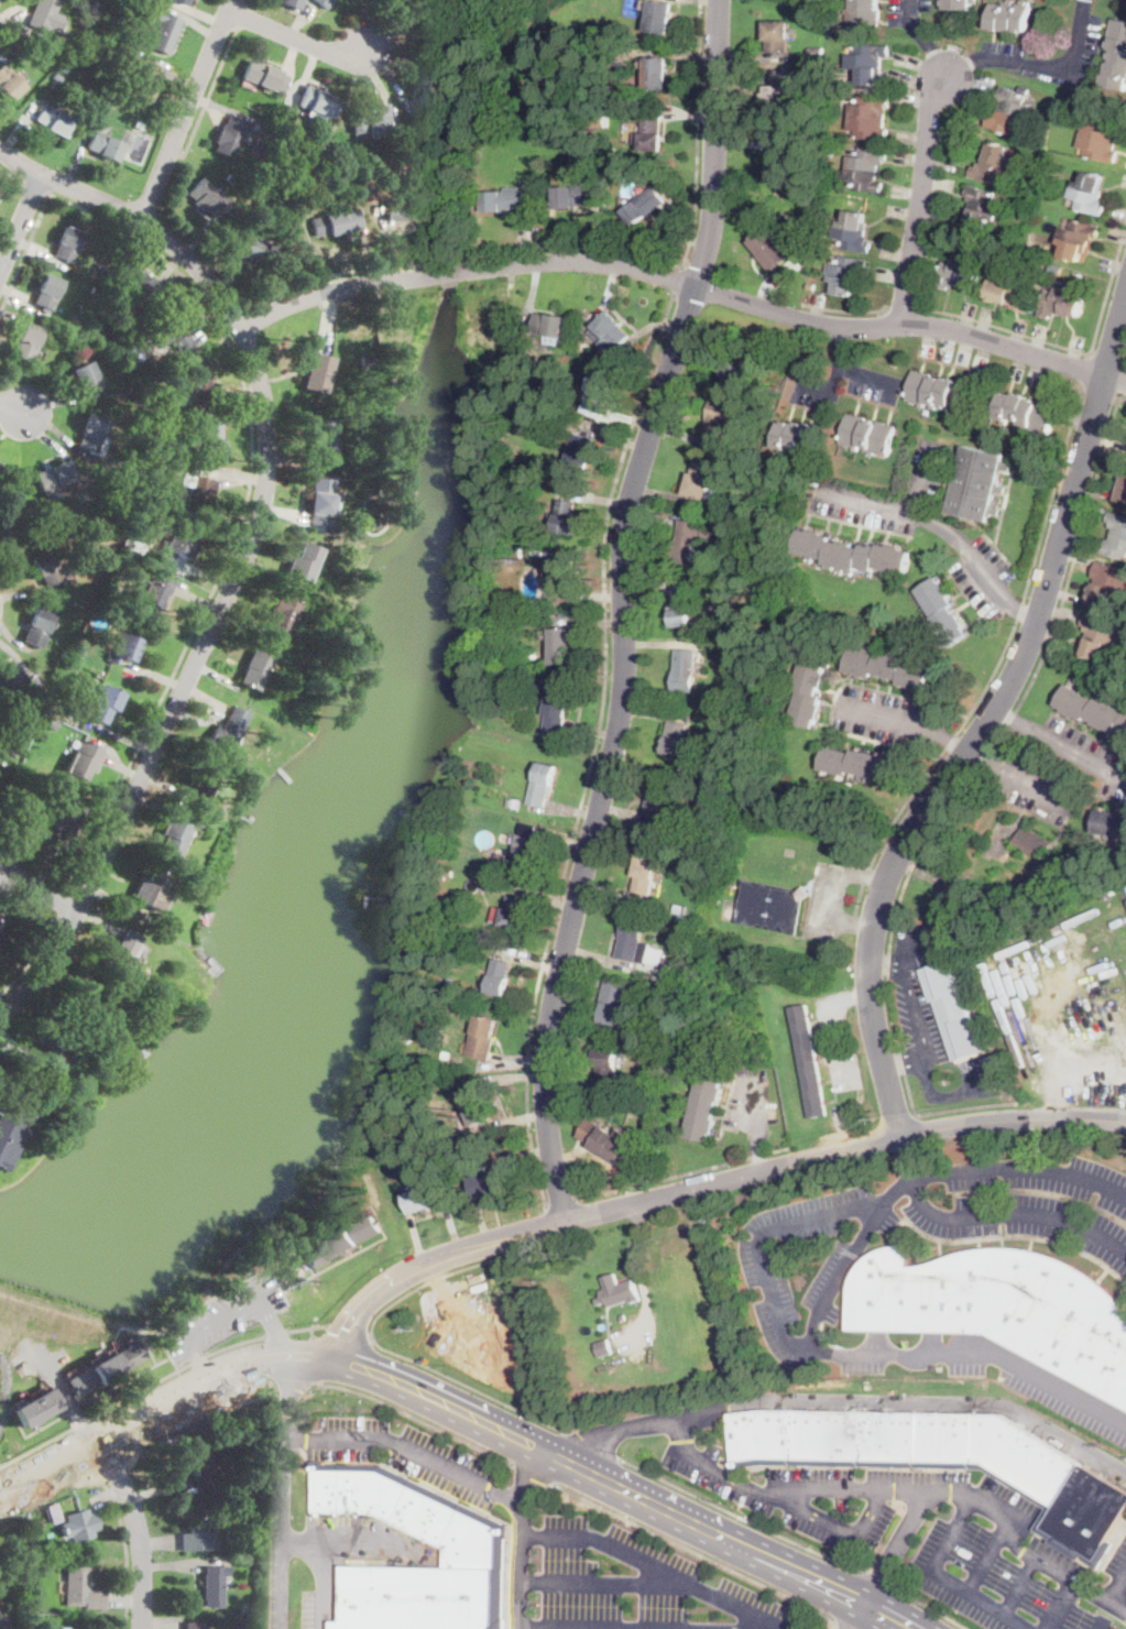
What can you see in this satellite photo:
building: (171, 1)
building: (183, 1)
road: (248, 2)
building: (292, 3)
building: (324, 3)
building: (959, 4)
building: (105, 6)
building: (42, 14)
building: (864, 14)
road: (242, 17)
building: (1012, 17)
building: (660, 18)
building: (440, 31)
building: (164, 32)
building: (779, 35)
road: (295, 37)
building: (130, 39)
road: (922, 39)
building: (475, 40)
building: (87, 50)
building: (817, 52)
building: (1116, 56)
road: (1037, 62)
building: (48, 63)
building: (868, 64)
building: (63, 68)
building: (656, 73)
building: (56, 76)
building: (265, 76)
building: (452, 76)
building: (799, 77)
building: (144, 80)
building: (9, 83)
building: (247, 84)
building: (425, 85)
building: (119, 89)
road: (210, 95)
building: (105, 100)
building: (778, 101)
building: (317, 105)
road: (186, 110)
building: (1012, 110)
building: (289, 116)
building: (871, 118)
building: (51, 119)
building: (369, 120)
building: (138, 124)
building: (651, 130)
road: (699, 134)
building: (229, 135)
building: (1102, 138)
building: (103, 145)
building: (994, 164)
building: (780, 167)
building: (866, 168)
road: (12, 176)
building: (230, 178)
building: (489, 185)
road: (34, 189)
building: (1090, 193)
building: (577, 195)
building: (209, 198)
building: (282, 198)
building: (505, 199)
road: (920, 199)
building: (644, 206)
building: (982, 206)
building: (411, 210)
building: (340, 221)
road: (20, 223)
building: (854, 231)
building: (1078, 238)
building: (66, 242)
building: (769, 249)
building: (260, 252)
road: (23, 253)
road: (461, 258)
building: (105, 270)
building: (960, 273)
building: (846, 274)
building: (132, 280)
road: (678, 281)
road: (685, 282)
building: (96, 289)
building: (1014, 291)
building: (46, 292)
building: (116, 298)
building: (1062, 302)
building: (109, 308)
road: (904, 309)
road: (848, 311)
road: (233, 317)
road: (982, 321)
building: (550, 328)
building: (612, 329)
building: (170, 330)
building: (99, 338)
building: (76, 339)
building: (25, 341)
building: (525, 347)
road: (1108, 360)
road: (849, 368)
building: (743, 369)
road: (1085, 371)
building: (315, 373)
building: (85, 378)
building: (198, 381)
road: (1122, 384)
parking lot: (874, 386)
road: (828, 390)
building: (941, 393)
building: (598, 394)
road: (12, 406)
building: (1028, 413)
building: (723, 418)
building: (91, 434)
building: (868, 435)
building: (323, 436)
building: (797, 436)
building: (209, 440)
building: (158, 448)
building: (581, 456)
building: (756, 460)
building: (157, 469)
building: (53, 479)
road: (923, 480)
building: (702, 481)
building: (977, 483)
building: (1123, 489)
building: (1, 490)
building: (198, 493)
building: (320, 500)
road: (244, 511)
building: (14, 512)
building: (565, 516)
building: (739, 517)
road: (928, 518)
parking lot: (925, 522)
building: (328, 524)
building: (0, 532)
building: (143, 532)
building: (1116, 537)
building: (177, 540)
building: (688, 542)
building: (8, 544)
road: (249, 547)
building: (852, 554)
building: (125, 557)
building: (736, 558)
building: (342, 560)
building: (303, 562)
building: (43, 568)
building: (562, 578)
building: (67, 580)
building: (1107, 583)
building: (91, 592)
building: (153, 598)
building: (317, 598)
building: (681, 605)
road: (625, 609)
building: (348, 611)
road: (1019, 611)
building: (943, 612)
road: (1019, 614)
building: (281, 617)
building: (734, 617)
building: (36, 630)
building: (1097, 637)
building: (561, 646)
building: (123, 647)
building: (64, 653)
building: (76, 653)
building: (531, 660)
building: (68, 666)
building: (888, 668)
building: (253, 670)
building: (686, 670)
building: (10, 678)
building: (1123, 679)
building: (809, 692)
building: (732, 693)
building: (101, 702)
building: (557, 708)
building: (1093, 710)
road: (881, 714)
parking lot: (884, 714)
building: (50, 721)
road: (985, 722)
building: (228, 730)
building: (23, 734)
building: (676, 737)
road: (943, 739)
building: (42, 742)
road: (1060, 743)
road: (594, 751)
building: (3, 752)
building: (83, 759)
building: (864, 764)
road: (1013, 776)
building: (200, 779)
parking lot: (1034, 783)
building: (543, 784)
building: (28, 785)
building: (2, 792)
road: (955, 801)
building: (510, 802)
building: (660, 802)
building: (516, 803)
building: (59, 818)
building: (1111, 823)
building: (196, 824)
building: (691, 834)
building: (173, 837)
building: (1034, 842)
building: (527, 852)
building: (501, 856)
building: (645, 874)
building: (496, 887)
road: (37, 889)
building: (152, 889)
road: (832, 897)
parking lot: (827, 899)
road: (66, 903)
building: (772, 906)
building: (680, 907)
building: (512, 914)
building: (156, 922)
building: (1, 933)
building: (641, 945)
building: (120, 953)
road: (903, 954)
road: (35, 959)
building: (500, 977)
building: (664, 993)
building: (614, 1002)
building: (86, 1004)
road: (915, 1005)
building: (664, 1006)
building: (952, 1010)
road: (829, 1020)
parking lot: (931, 1020)
building: (483, 1038)
parking lot: (838, 1039)
building: (446, 1056)
building: (45, 1061)
building: (809, 1061)
building: (608, 1063)
building: (457, 1064)
building: (623, 1087)
road: (928, 1087)
parking lot: (750, 1104)
building: (706, 1106)
road: (757, 1107)
building: (479, 1108)
building: (12, 1127)
building: (608, 1138)
road: (759, 1151)
road: (907, 1156)
road: (725, 1163)
building: (490, 1183)
road: (707, 1185)
road: (915, 1192)
building: (425, 1200)
parking lot: (1027, 1202)
building: (341, 1242)
parking lot: (846, 1256)
road: (433, 1279)
building: (619, 1291)
building: (1002, 1307)
parking lot: (775, 1310)
parking lot: (222, 1314)
road: (220, 1316)
building: (623, 1318)
road: (271, 1324)
road: (306, 1331)
road: (783, 1332)
road: (276, 1334)
road: (347, 1335)
building: (603, 1347)
road: (976, 1352)
road: (195, 1355)
road: (349, 1356)
building: (106, 1368)
road: (217, 1370)
road: (289, 1380)
road: (468, 1384)
road: (63, 1396)
road: (131, 1398)
road: (909, 1400)
road: (194, 1401)
building: (35, 1408)
road: (417, 1417)
road: (576, 1443)
road: (592, 1443)
road: (106, 1448)
road: (409, 1448)
parking lot: (411, 1455)
building: (943, 1459)
road: (54, 1462)
building: (199, 1466)
road: (534, 1476)
road: (741, 1480)
road: (161, 1487)
road: (282, 1489)
road: (627, 1489)
road: (109, 1491)
road: (310, 1491)
road: (108, 1496)
parking lot: (801, 1496)
building: (53, 1511)
road: (737, 1513)
building: (79, 1524)
road: (839, 1526)
road: (138, 1529)
road: (904, 1533)
building: (197, 1535)
road: (524, 1535)
road: (1009, 1539)
road: (158, 1541)
building: (471, 1543)
road: (349, 1546)
road: (696, 1552)
parking lot: (1004, 1557)
road: (985, 1561)
road: (181, 1564)
road: (658, 1568)
road: (936, 1568)
building: (22, 1574)
road: (876, 1576)
road: (605, 1582)
building: (214, 1584)
parking lot: (623, 1584)
road: (1021, 1584)
road: (1067, 1584)
road: (1117, 1586)
road: (323, 1587)
building: (81, 1589)
road: (870, 1598)
road: (127, 1599)
road: (1117, 1606)
road: (928, 1607)
building: (228, 1608)
road: (162, 1621)
building: (3, 1623)
road: (857, 1623)
road: (1102, 1625)
building: (195, 1626)
road: (842, 1626)
road: (612, 1627)
building: (63, 1628)

